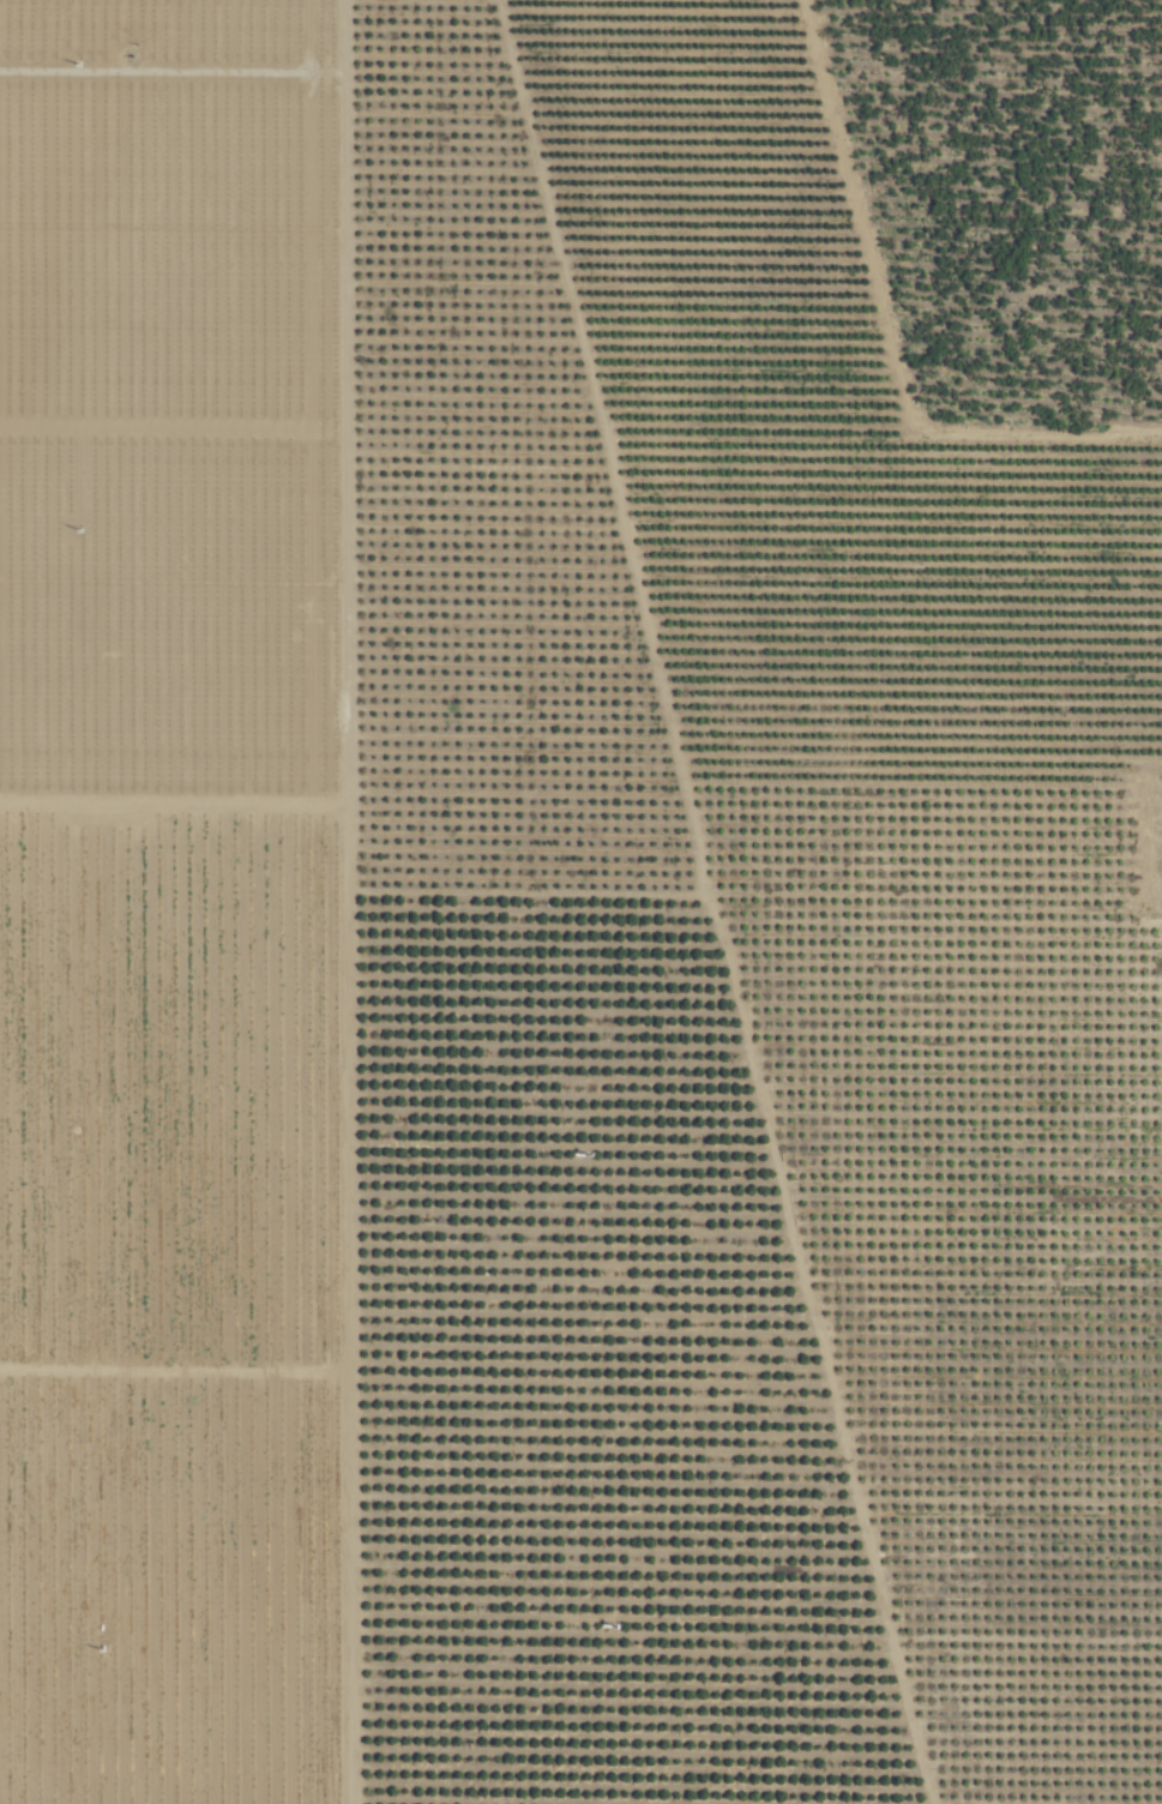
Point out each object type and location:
crop: (580, 902)

